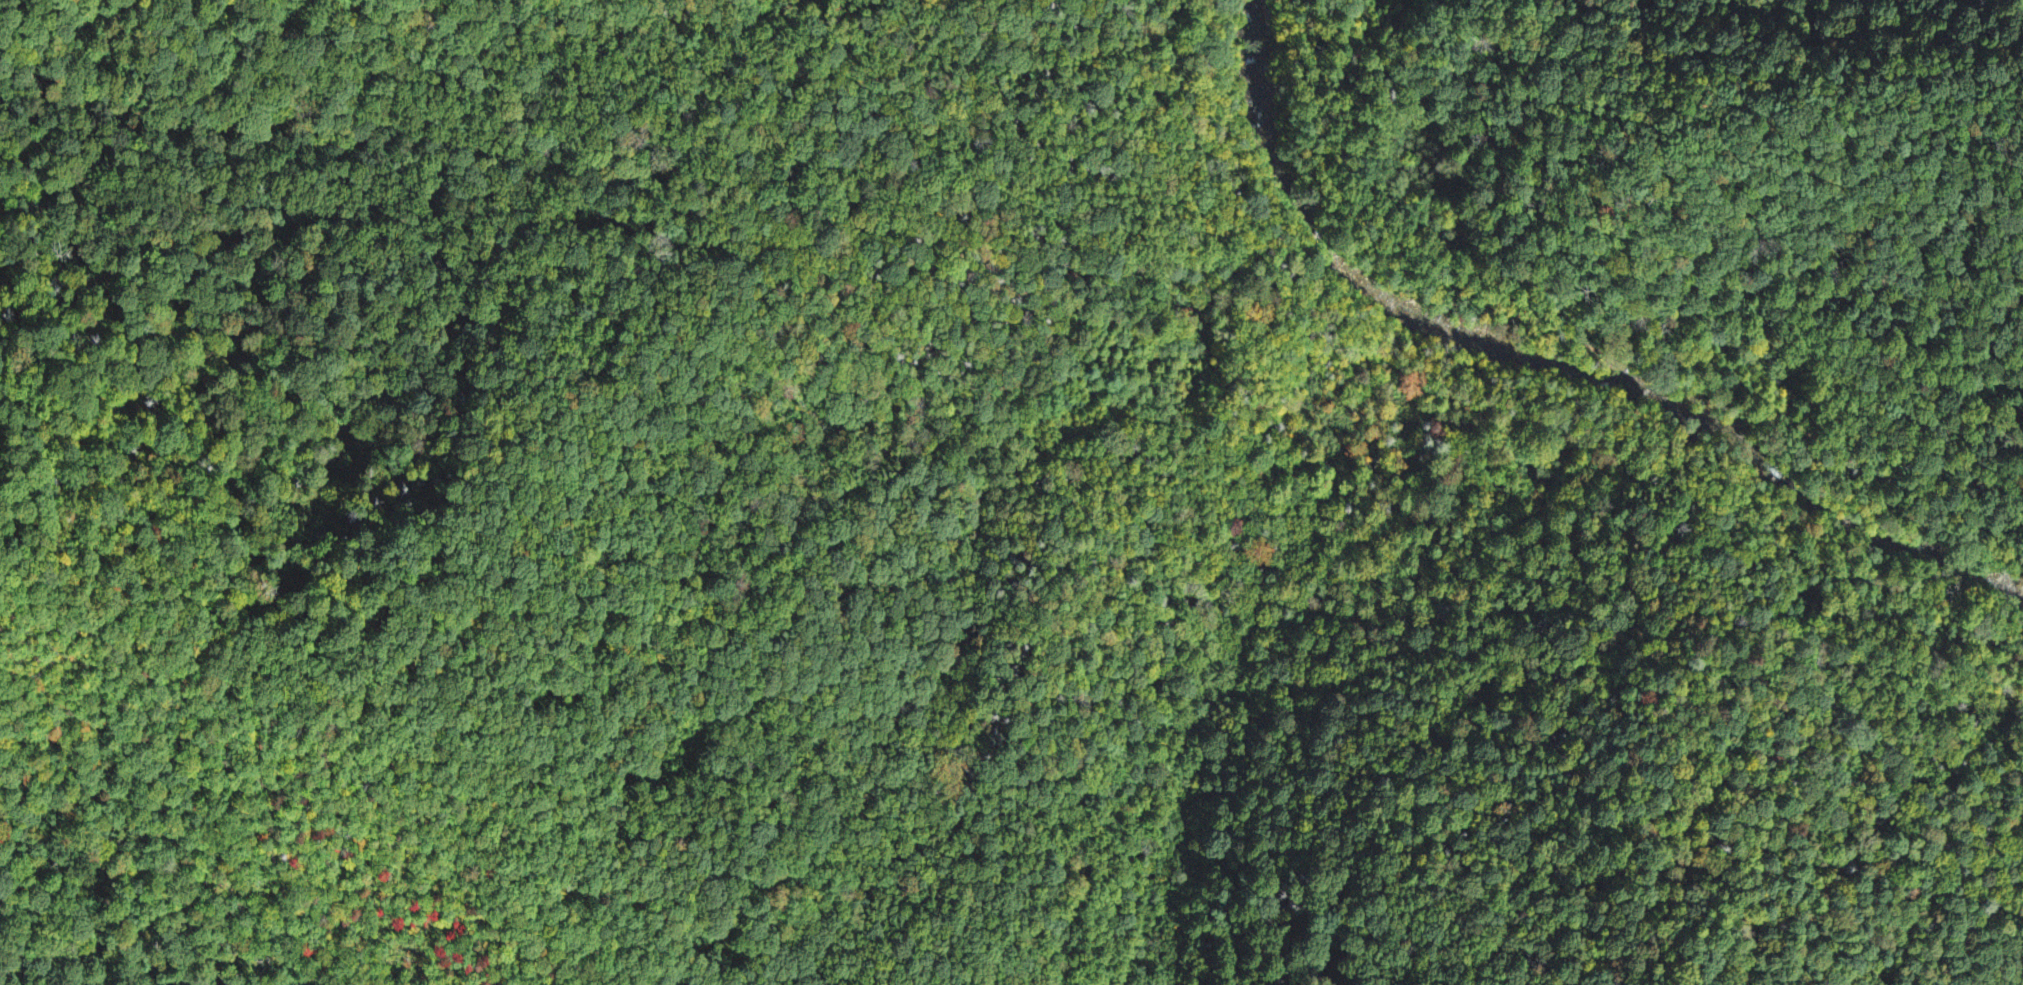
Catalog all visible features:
river: (1253, 15)
road: (1613, 351)
river: (1572, 374)
road: (1204, 684)
road: (328, 717)

